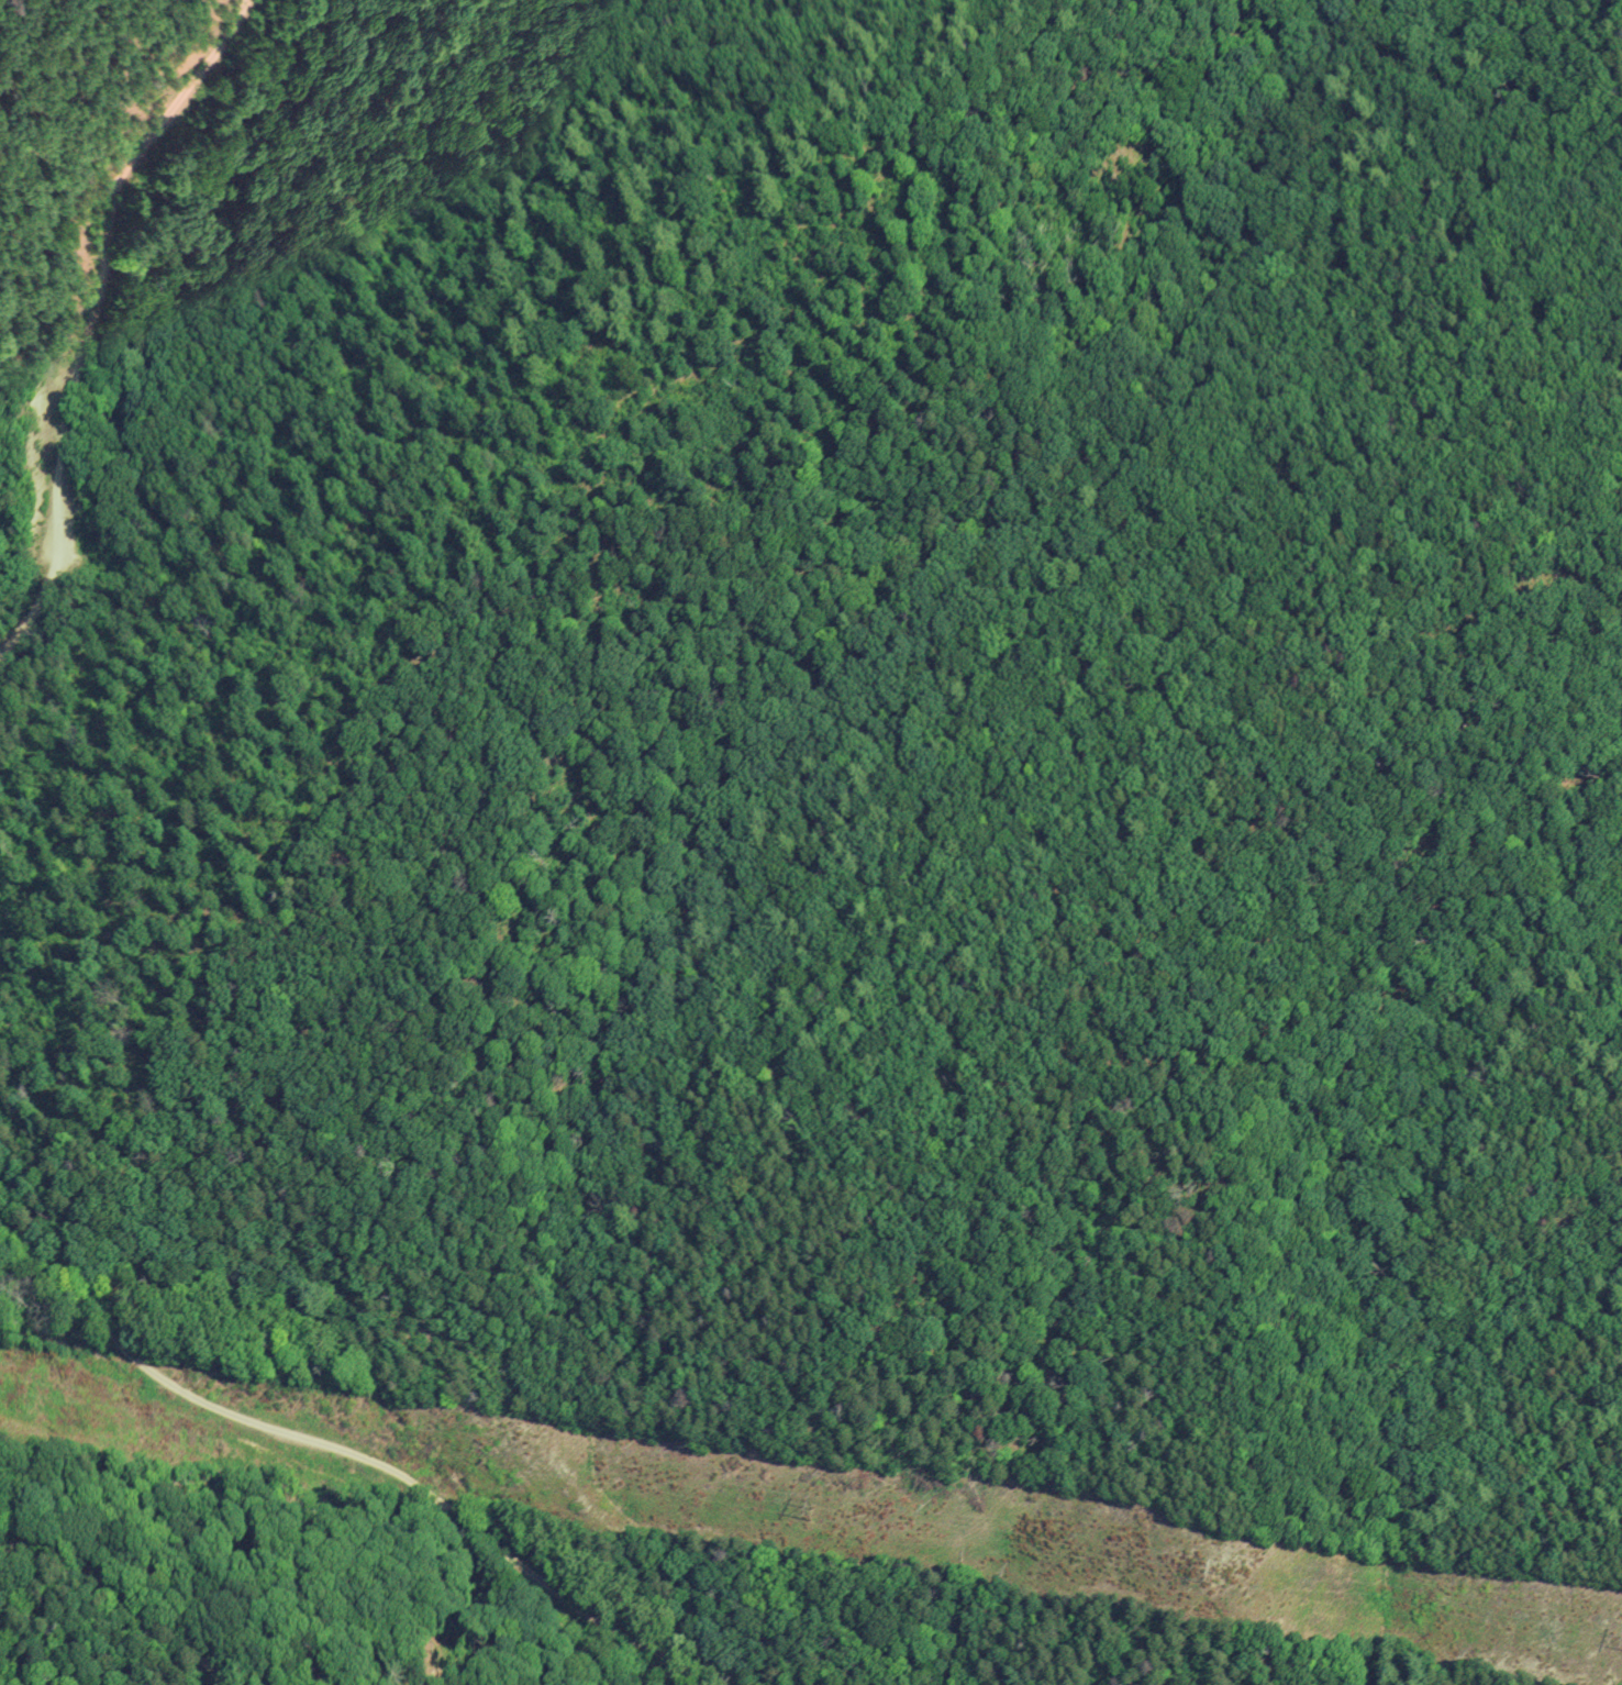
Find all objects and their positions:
road: (95, 318)
road: (355, 1457)
power tower: (812, 1516)
power tower: (1214, 1581)
road: (126, 1604)

